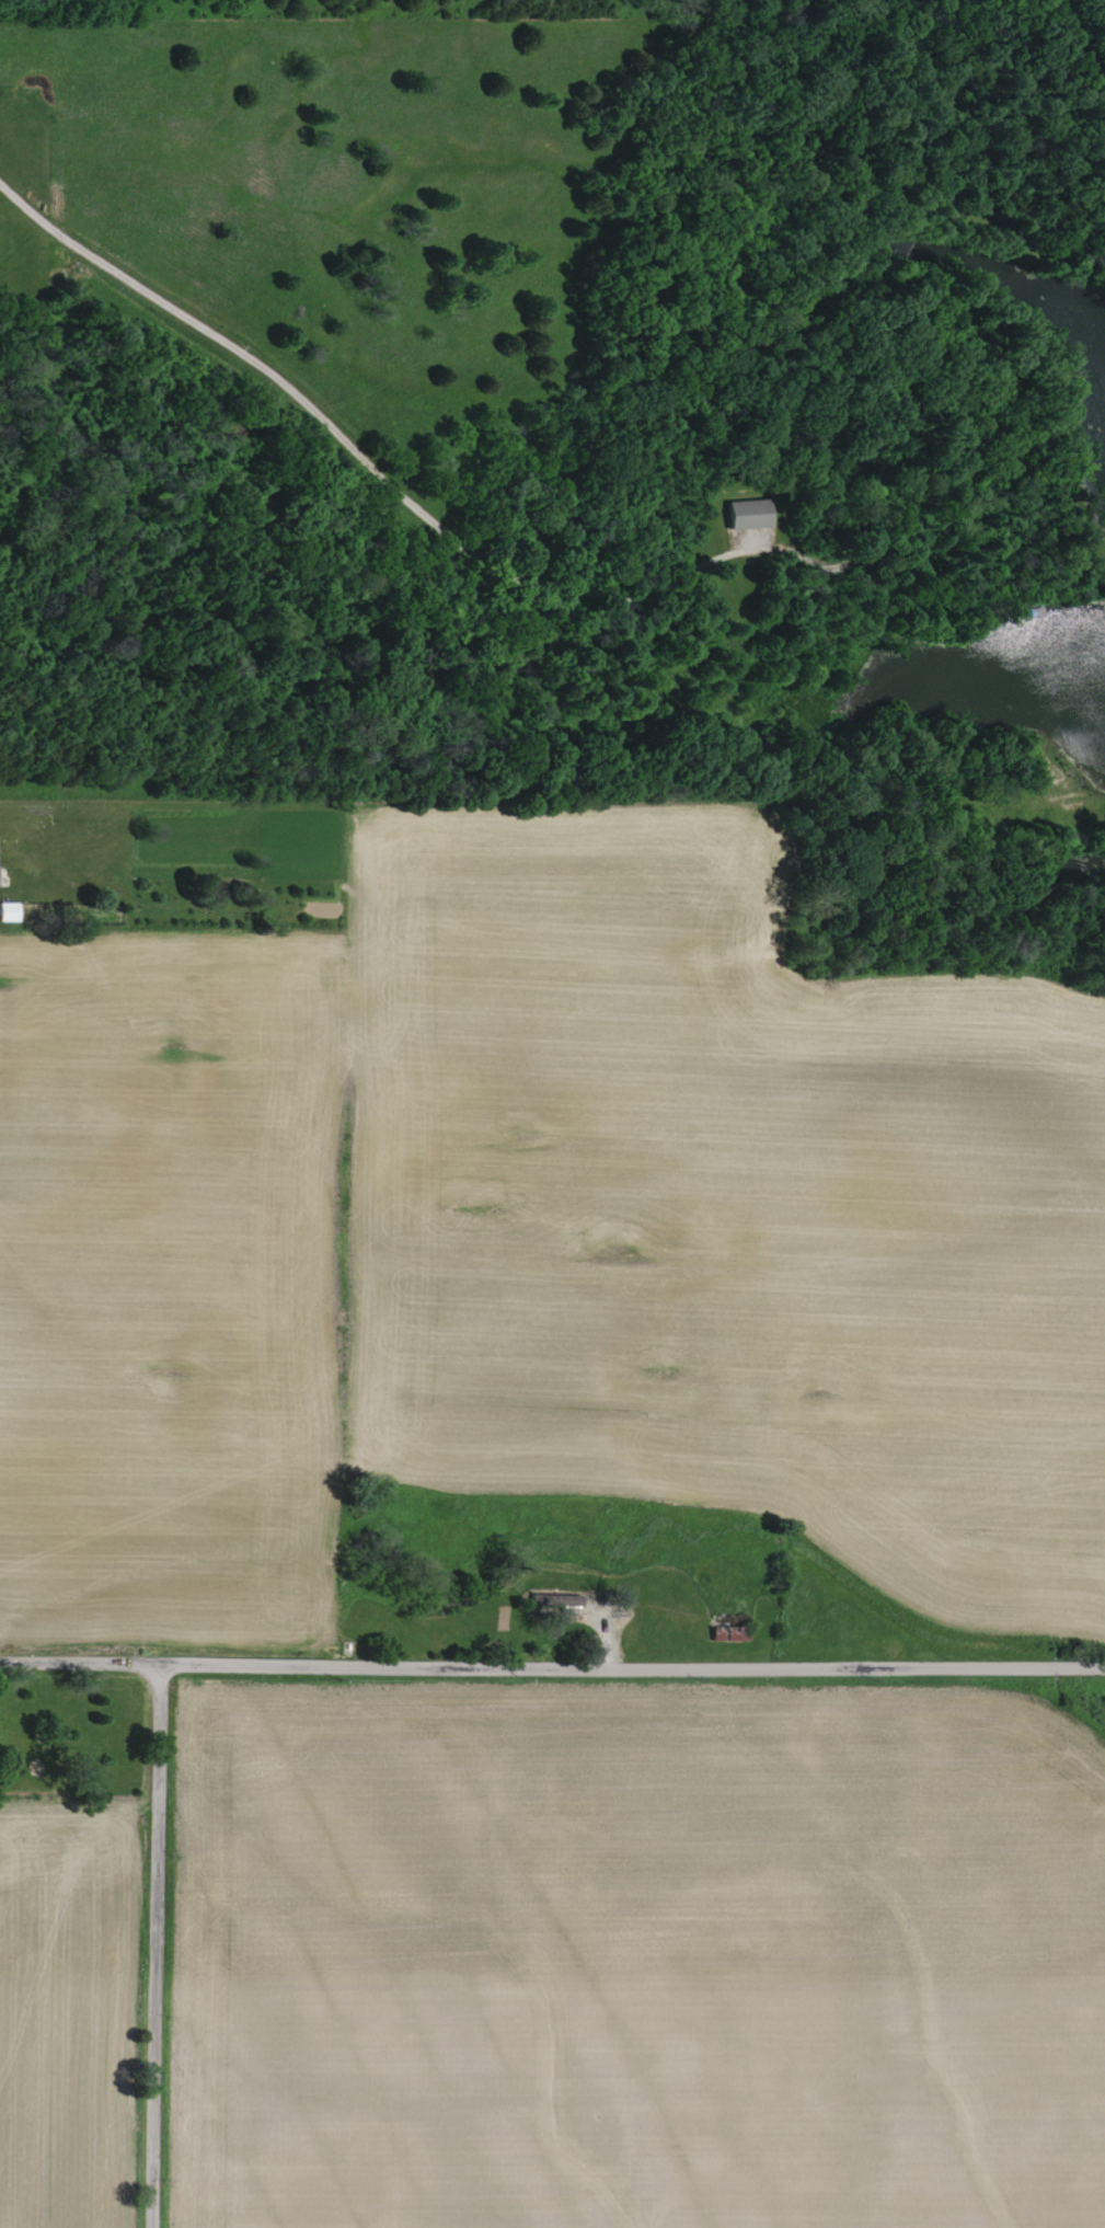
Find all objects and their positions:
road: (356, 452)
building: (746, 514)
building: (7, 911)
building: (563, 1603)
road: (552, 1668)
road: (157, 1949)

